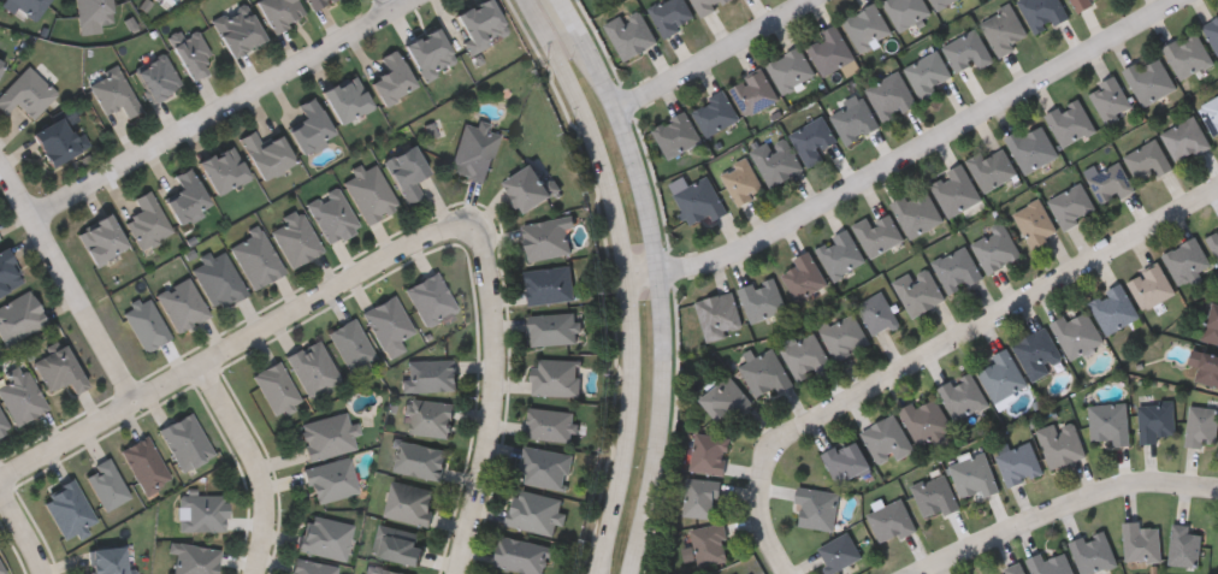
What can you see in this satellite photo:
building: (149, 0)
building: (941, 2)
building: (315, 4)
building: (1081, 4)
road: (388, 5)
building: (709, 5)
building: (26, 7)
road: (564, 7)
building: (906, 11)
building: (91, 12)
building: (1042, 12)
building: (278, 13)
building: (673, 14)
building: (478, 24)
building: (868, 28)
building: (1005, 29)
building: (236, 30)
building: (1212, 30)
building: (632, 32)
building: (969, 49)
building: (830, 51)
building: (190, 53)
building: (427, 54)
road: (713, 54)
building: (1188, 54)
building: (0, 63)
building: (1, 66)
building: (792, 70)
building: (928, 73)
building: (155, 78)
building: (390, 78)
building: (1149, 78)
building: (755, 91)
building: (26, 93)
building: (113, 94)
building: (892, 95)
building: (1111, 99)
building: (345, 100)
road: (220, 107)
building: (716, 112)
building: (1211, 113)
building: (855, 118)
building: (1070, 120)
building: (308, 128)
building: (678, 132)
building: (814, 138)
building: (1186, 138)
building: (55, 142)
building: (1033, 146)
building: (473, 152)
building: (264, 154)
road: (911, 156)
building: (777, 159)
building: (1148, 160)
building: (993, 167)
building: (220, 170)
building: (404, 173)
building: (744, 181)
building: (1112, 183)
building: (527, 189)
building: (956, 190)
building: (371, 195)
building: (184, 196)
building: (700, 200)
building: (1074, 205)
building: (918, 212)
building: (332, 215)
building: (147, 221)
building: (1036, 221)
building: (879, 233)
building: (99, 238)
building: (295, 238)
building: (544, 239)
building: (1214, 239)
building: (997, 247)
building: (841, 254)
building: (256, 259)
building: (1188, 260)
building: (958, 268)
building: (7, 272)
building: (805, 277)
road: (627, 278)
building: (219, 280)
road: (69, 282)
building: (546, 285)
building: (1152, 285)
road: (658, 288)
building: (920, 290)
building: (427, 300)
building: (763, 300)
building: (182, 306)
building: (1114, 308)
building: (879, 313)
building: (720, 315)
building: (18, 318)
building: (386, 322)
building: (1212, 325)
building: (146, 326)
building: (550, 329)
building: (1077, 332)
building: (845, 335)
building: (349, 345)
road: (934, 348)
road: (232, 349)
building: (1039, 353)
building: (805, 355)
building: (312, 368)
building: (1208, 368)
building: (55, 371)
building: (765, 374)
building: (1003, 374)
building: (428, 375)
building: (552, 378)
building: (274, 389)
building: (19, 396)
road: (493, 396)
building: (963, 396)
building: (725, 398)
building: (427, 416)
building: (927, 419)
building: (1157, 420)
building: (1111, 422)
building: (546, 425)
building: (1202, 426)
building: (2, 427)
building: (324, 437)
building: (887, 439)
building: (184, 442)
building: (1063, 443)
building: (710, 452)
building: (416, 460)
building: (847, 460)
building: (1019, 462)
building: (143, 464)
road: (254, 464)
building: (542, 468)
building: (974, 475)
building: (327, 481)
building: (105, 485)
building: (936, 496)
building: (702, 497)
building: (407, 502)
road: (1064, 503)
building: (818, 505)
building: (66, 510)
building: (531, 511)
building: (200, 514)
building: (893, 520)
road: (23, 531)
building: (320, 538)
building: (711, 543)
building: (1141, 543)
building: (395, 544)
building: (1183, 546)
building: (841, 551)
building: (1093, 551)
building: (519, 556)
building: (193, 558)
building: (105, 561)
building: (1051, 563)
building: (308, 568)
building: (1012, 569)
building: (1, 570)
building: (383, 572)

